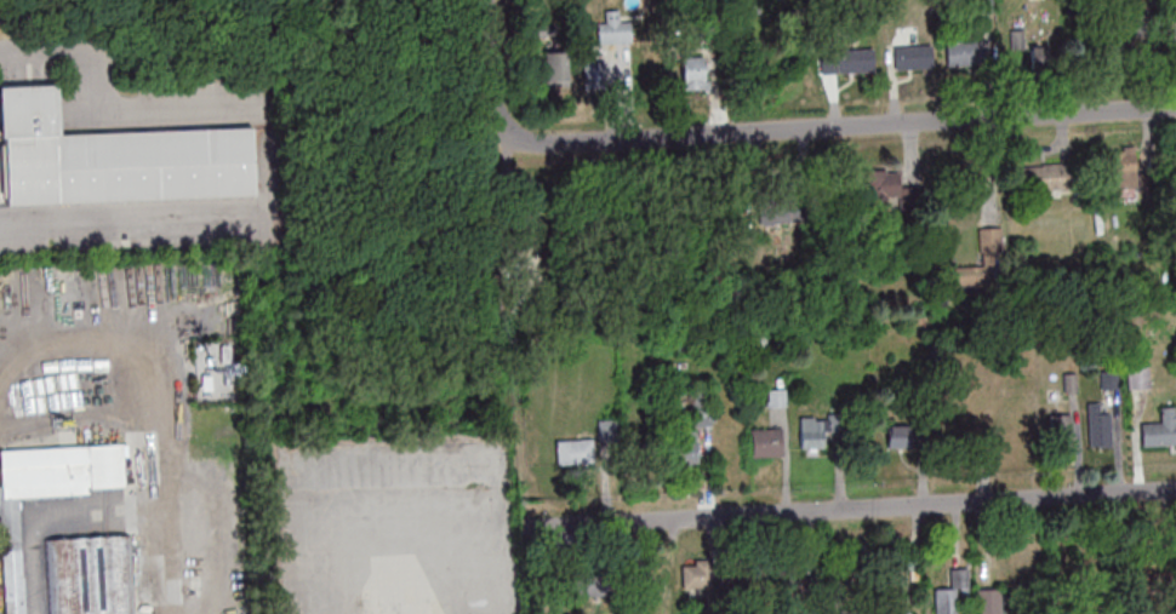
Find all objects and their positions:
building: (984, 5)
building: (613, 28)
building: (1120, 38)
road: (39, 44)
building: (961, 53)
road: (489, 54)
building: (909, 57)
building: (1037, 57)
building: (851, 59)
building: (555, 68)
building: (692, 73)
building: (594, 74)
road: (824, 125)
building: (112, 157)
building: (1124, 166)
building: (992, 174)
building: (1038, 176)
building: (868, 182)
building: (772, 210)
road: (133, 216)
building: (991, 241)
building: (1138, 375)
building: (1109, 379)
road: (165, 396)
building: (701, 411)
building: (1098, 425)
building: (1061, 430)
building: (811, 431)
building: (1154, 434)
building: (908, 435)
building: (1011, 435)
building: (766, 442)
building: (683, 447)
building: (573, 451)
road: (851, 507)
road: (56, 518)
building: (13, 563)
building: (697, 573)
building: (90, 574)
building: (794, 576)
building: (733, 578)
building: (655, 579)
building: (586, 583)
building: (950, 595)
building: (989, 599)

